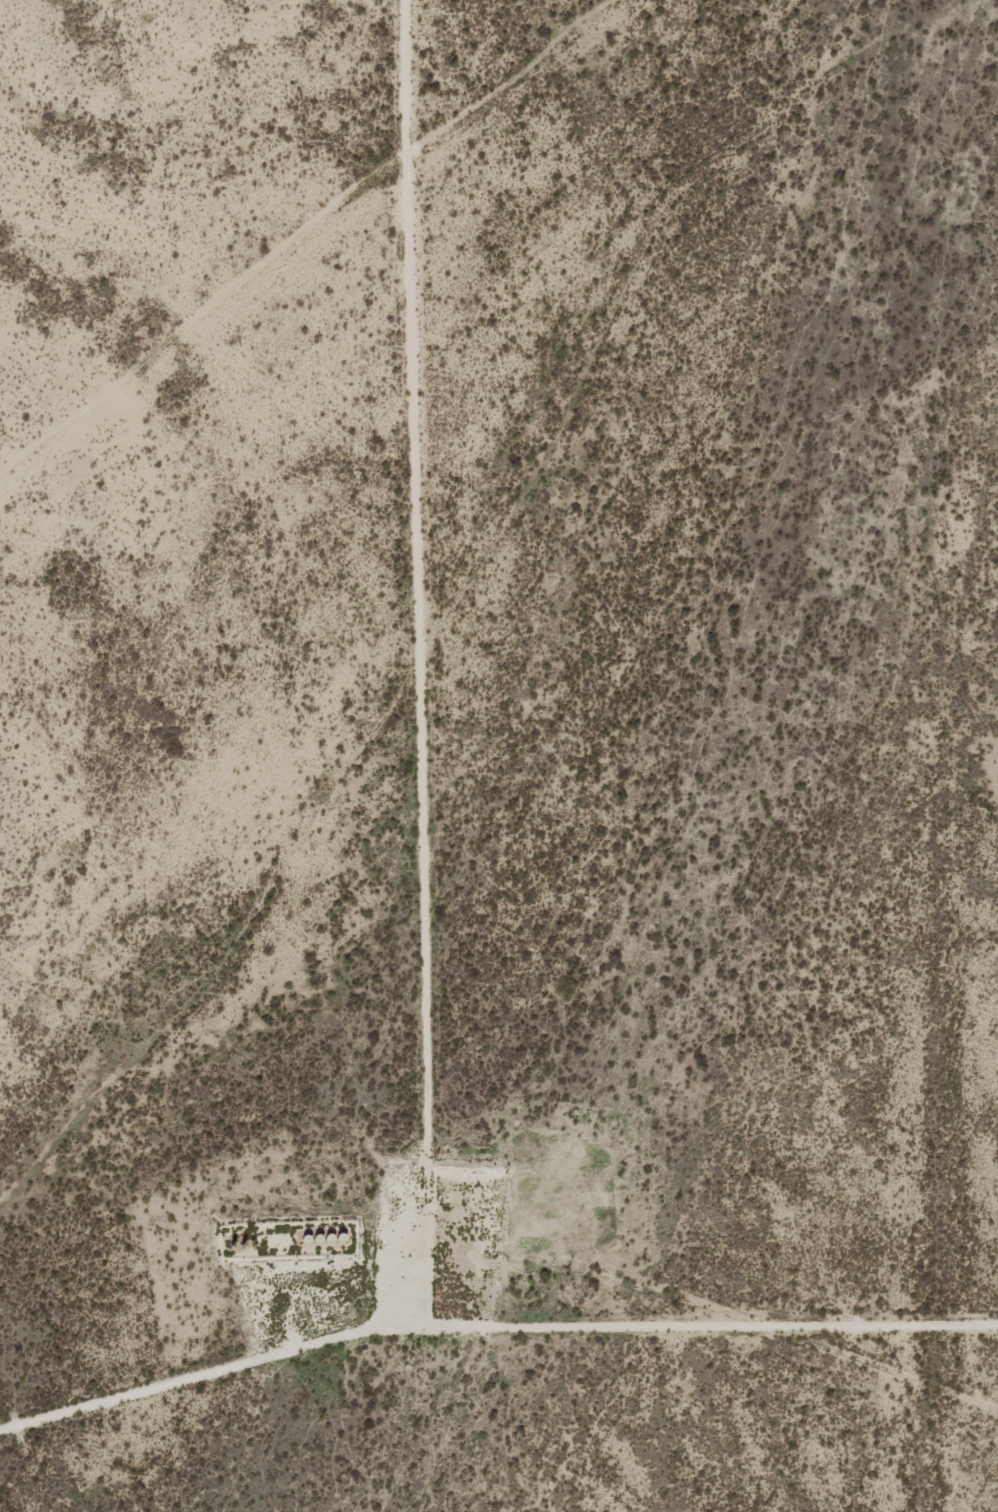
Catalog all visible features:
road: (490, 1327)

